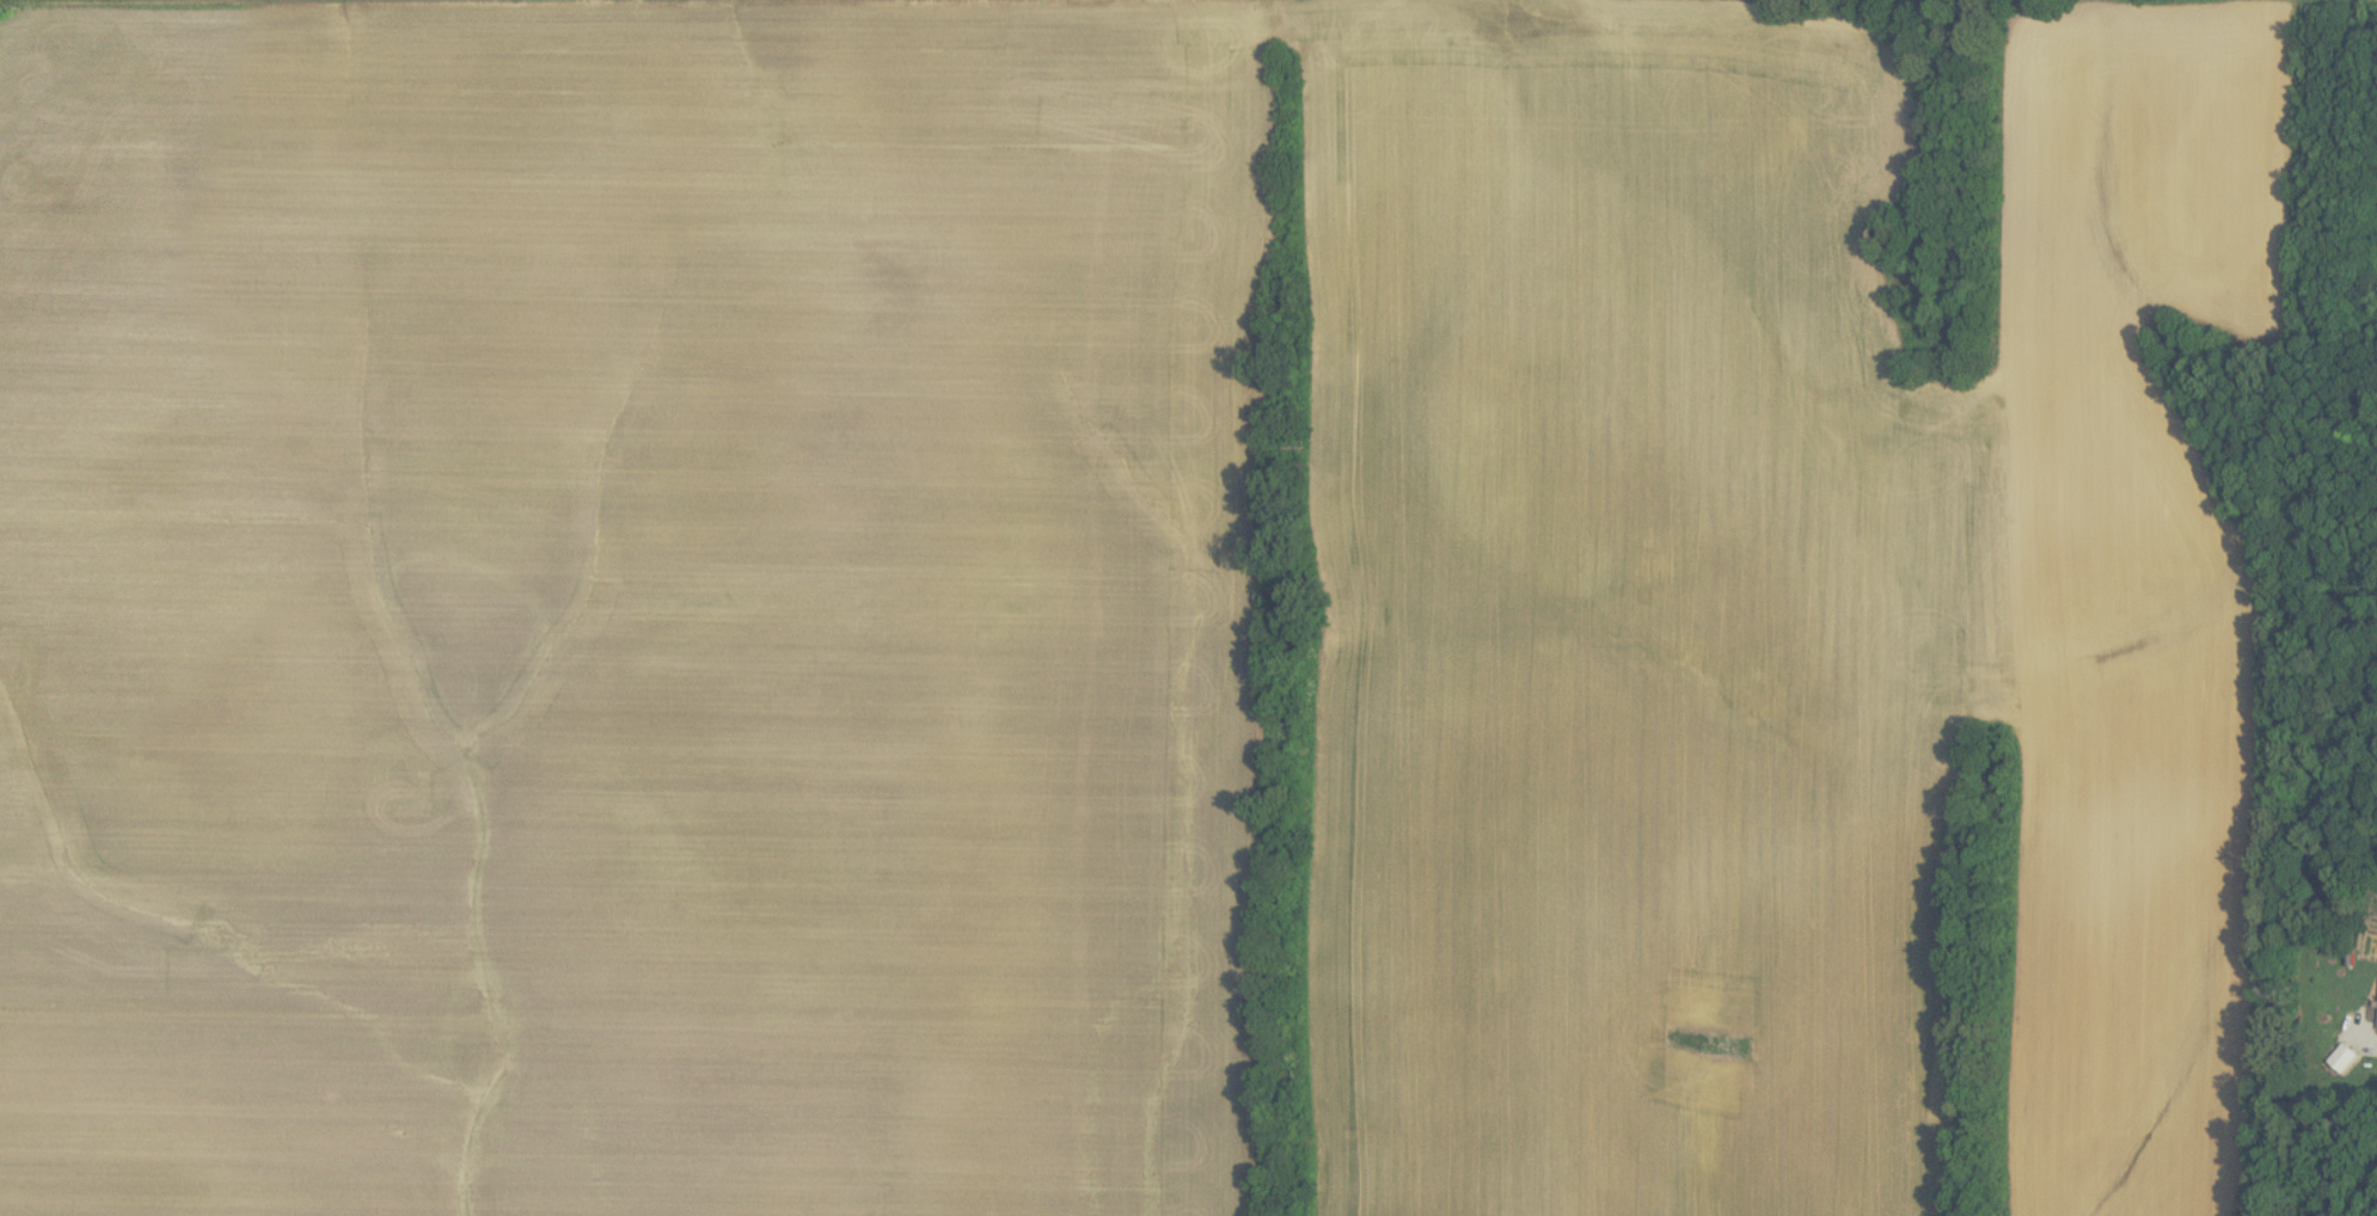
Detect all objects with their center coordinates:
road: (2367, 1034)
building: (2342, 1060)

